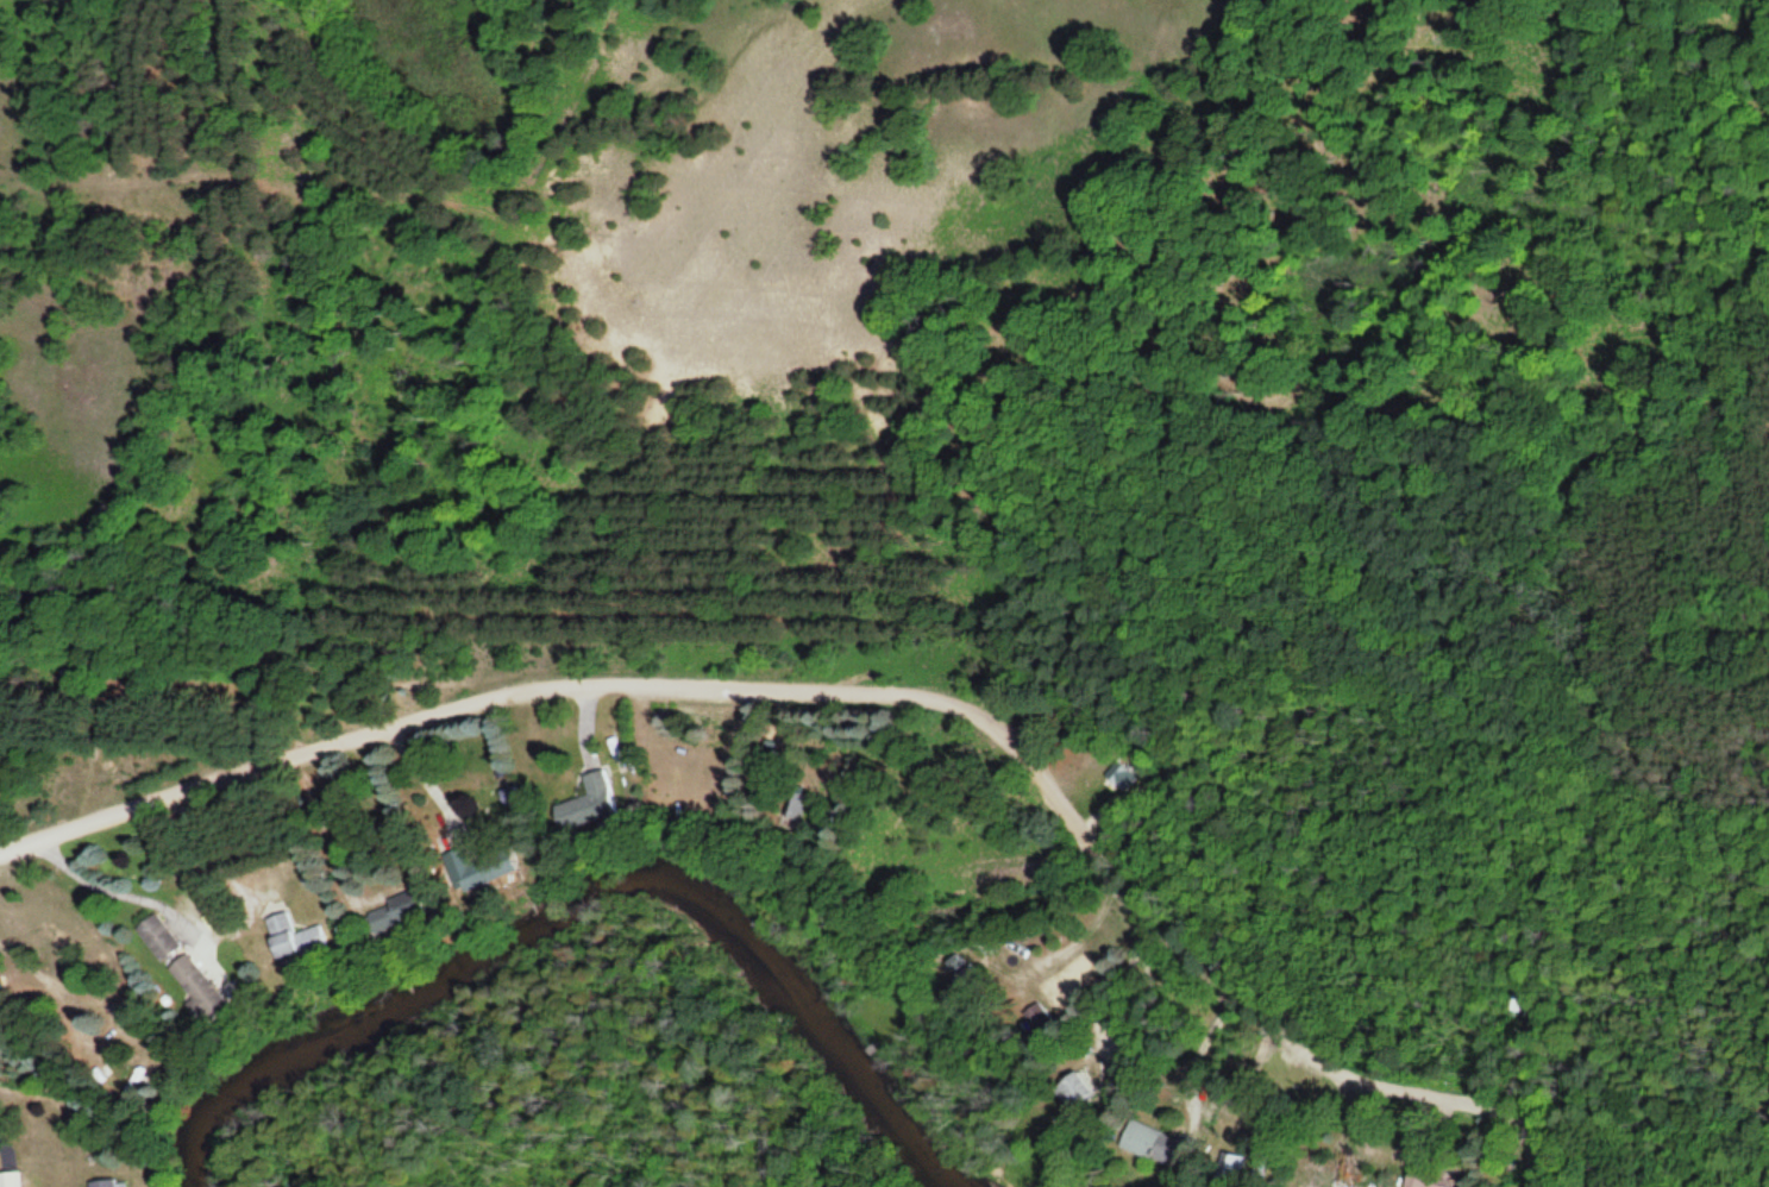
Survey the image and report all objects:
road: (885, 697)
building: (582, 805)
building: (798, 808)
building: (483, 866)
building: (399, 912)
building: (157, 937)
building: (290, 937)
river: (594, 937)
building: (189, 976)
building: (1073, 1091)
building: (1149, 1142)
building: (10, 1179)
building: (102, 1183)

